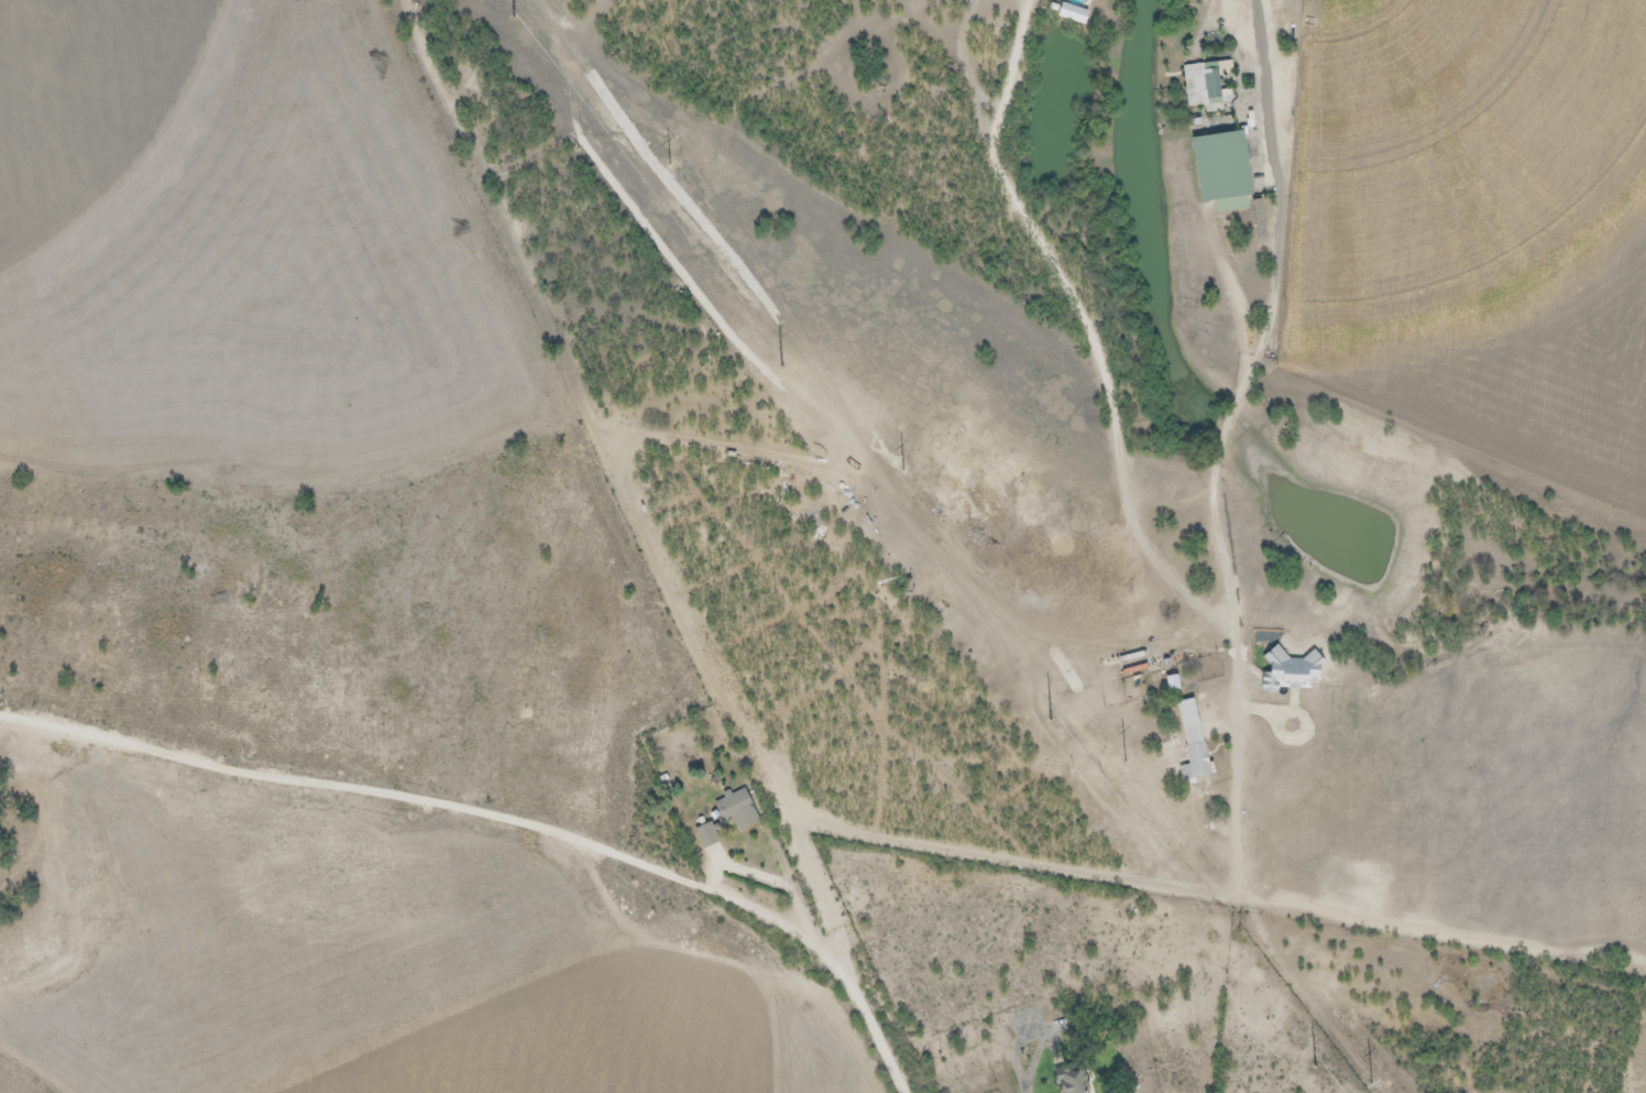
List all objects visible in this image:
power tower: (513, 14)
building: (1204, 85)
power tower: (662, 156)
building: (1221, 171)
power tower: (779, 365)
power tower: (899, 462)
building: (1288, 673)
power tower: (1049, 715)
building: (1192, 742)
power tower: (1129, 769)
building: (738, 810)
road: (502, 817)
building: (706, 835)
power tower: (1313, 1064)
power tower: (1363, 1075)
building: (1071, 1078)

